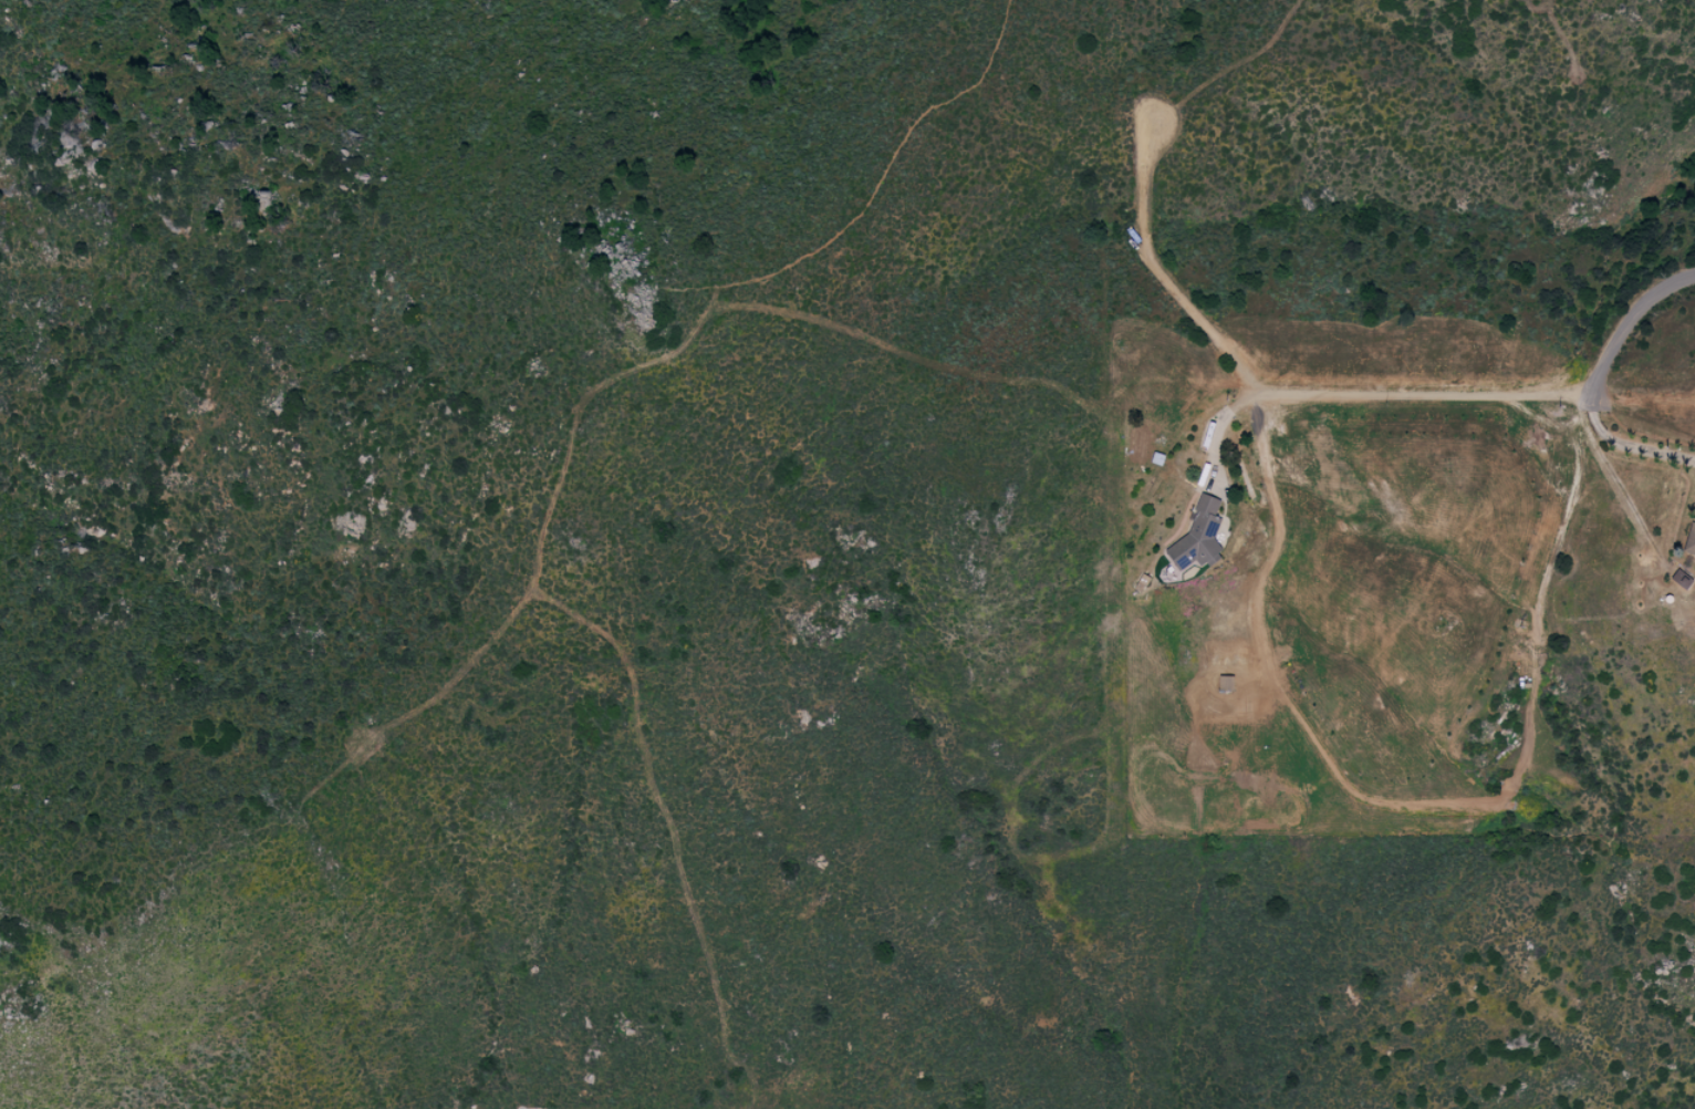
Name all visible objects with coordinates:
road: (1621, 339)
road: (1256, 385)
road: (1221, 422)
road: (1625, 445)
building: (1198, 536)
building: (1689, 540)

